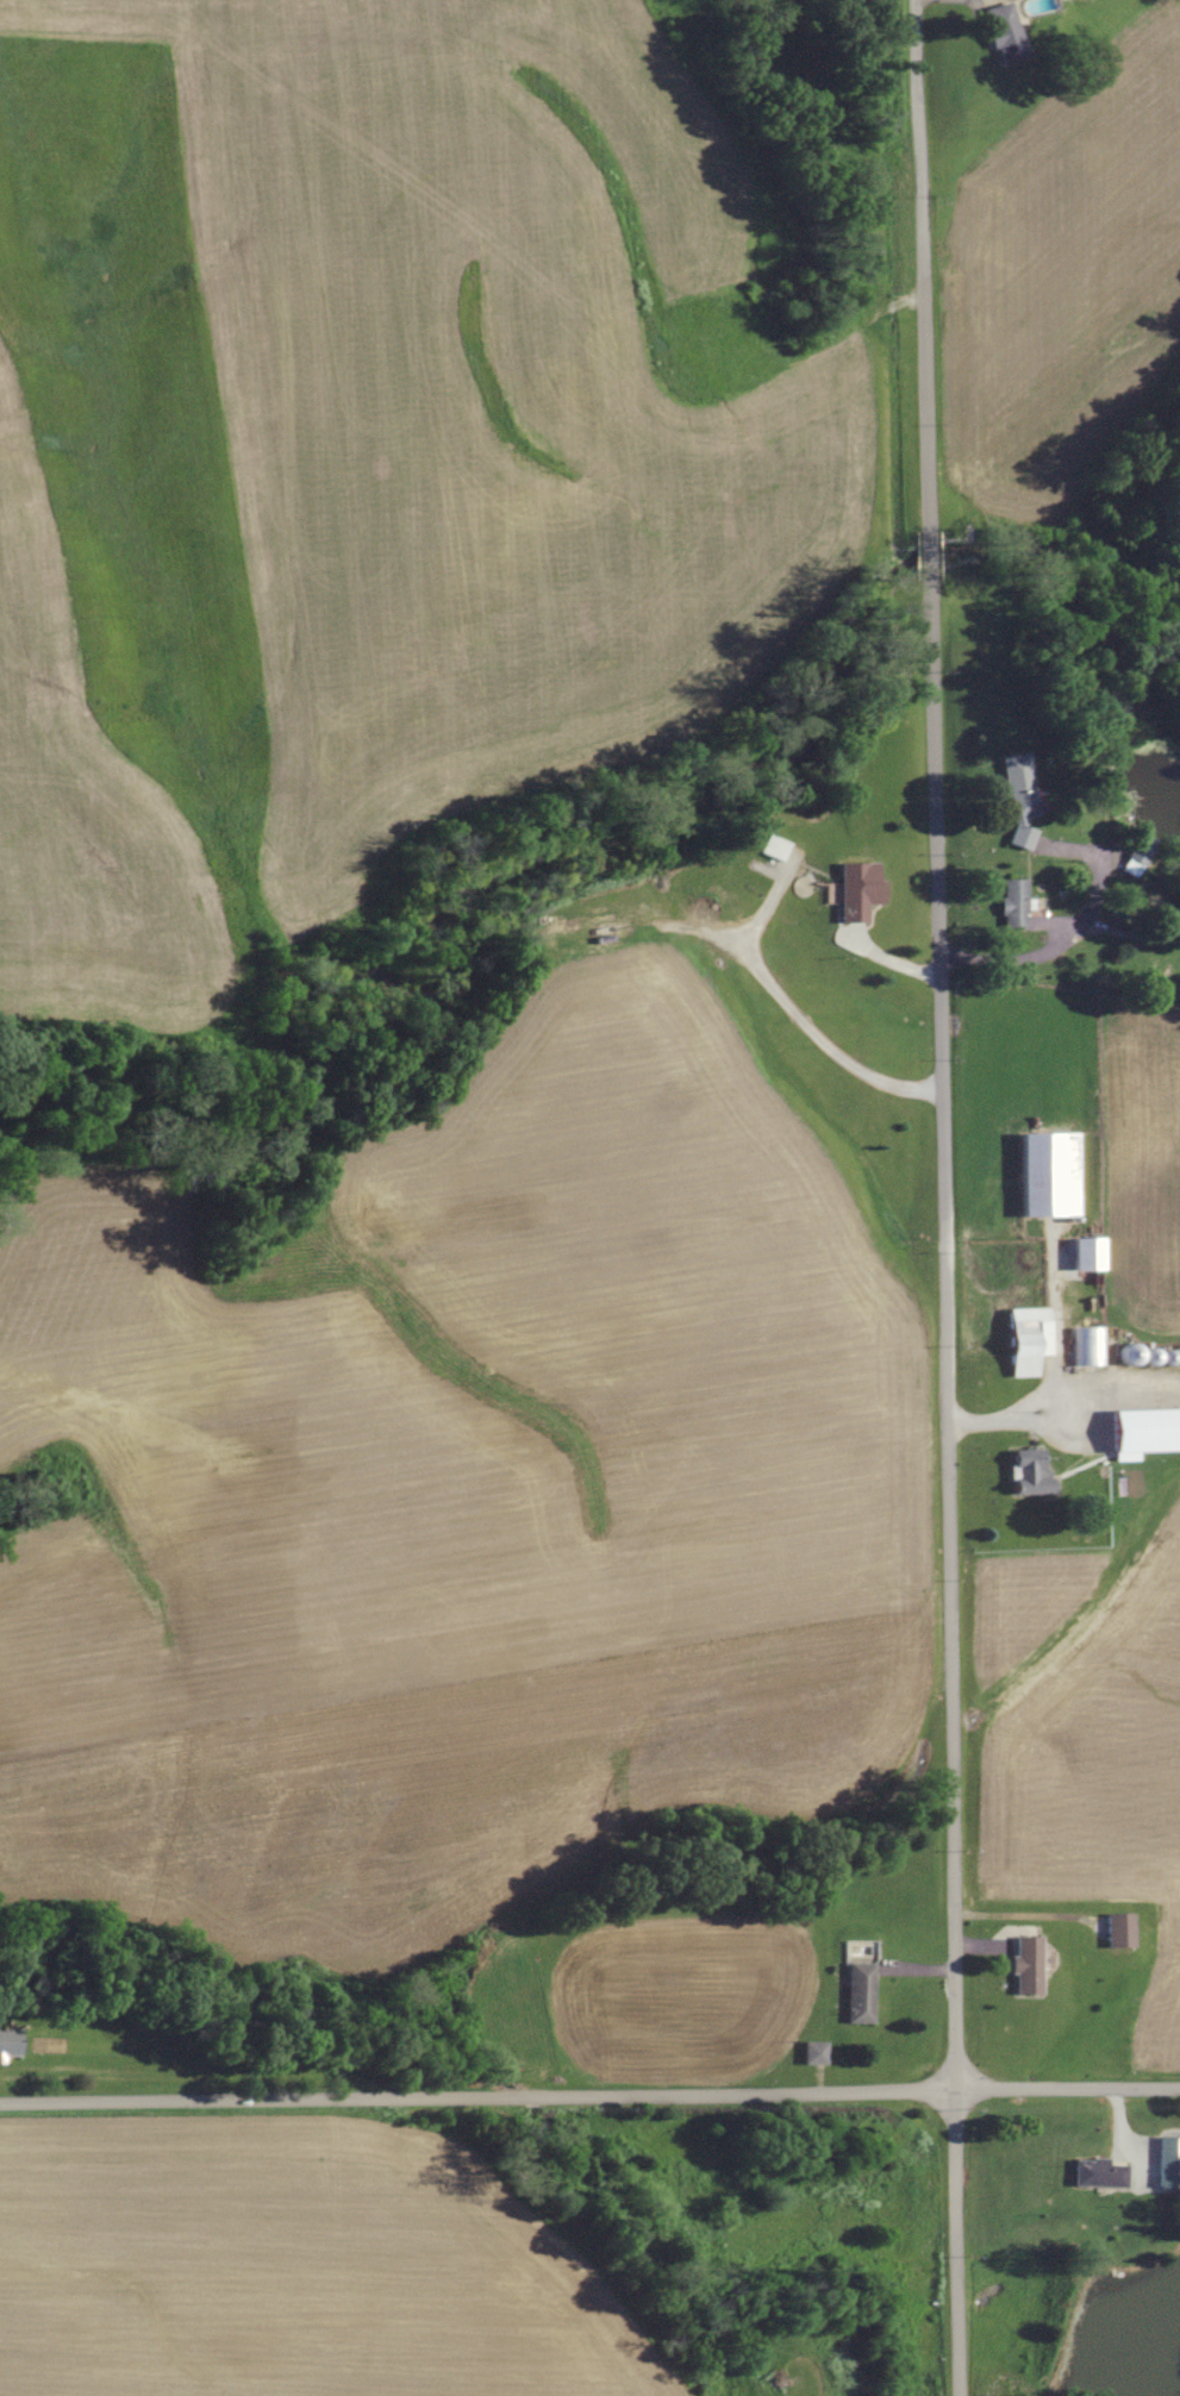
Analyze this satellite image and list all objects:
building: (1004, 35)
building: (1018, 787)
building: (1022, 837)
building: (774, 847)
building: (1137, 855)
building: (859, 890)
building: (1014, 903)
road: (1048, 953)
building: (1050, 1175)
road: (942, 1197)
building: (1088, 1255)
building: (1028, 1340)
building: (1087, 1347)
building: (1147, 1431)
building: (1030, 1474)
building: (1119, 1931)
building: (1028, 1965)
building: (860, 1994)
building: (8, 2045)
building: (814, 2054)
road: (589, 2091)
building: (1169, 2163)
building: (1099, 2175)

